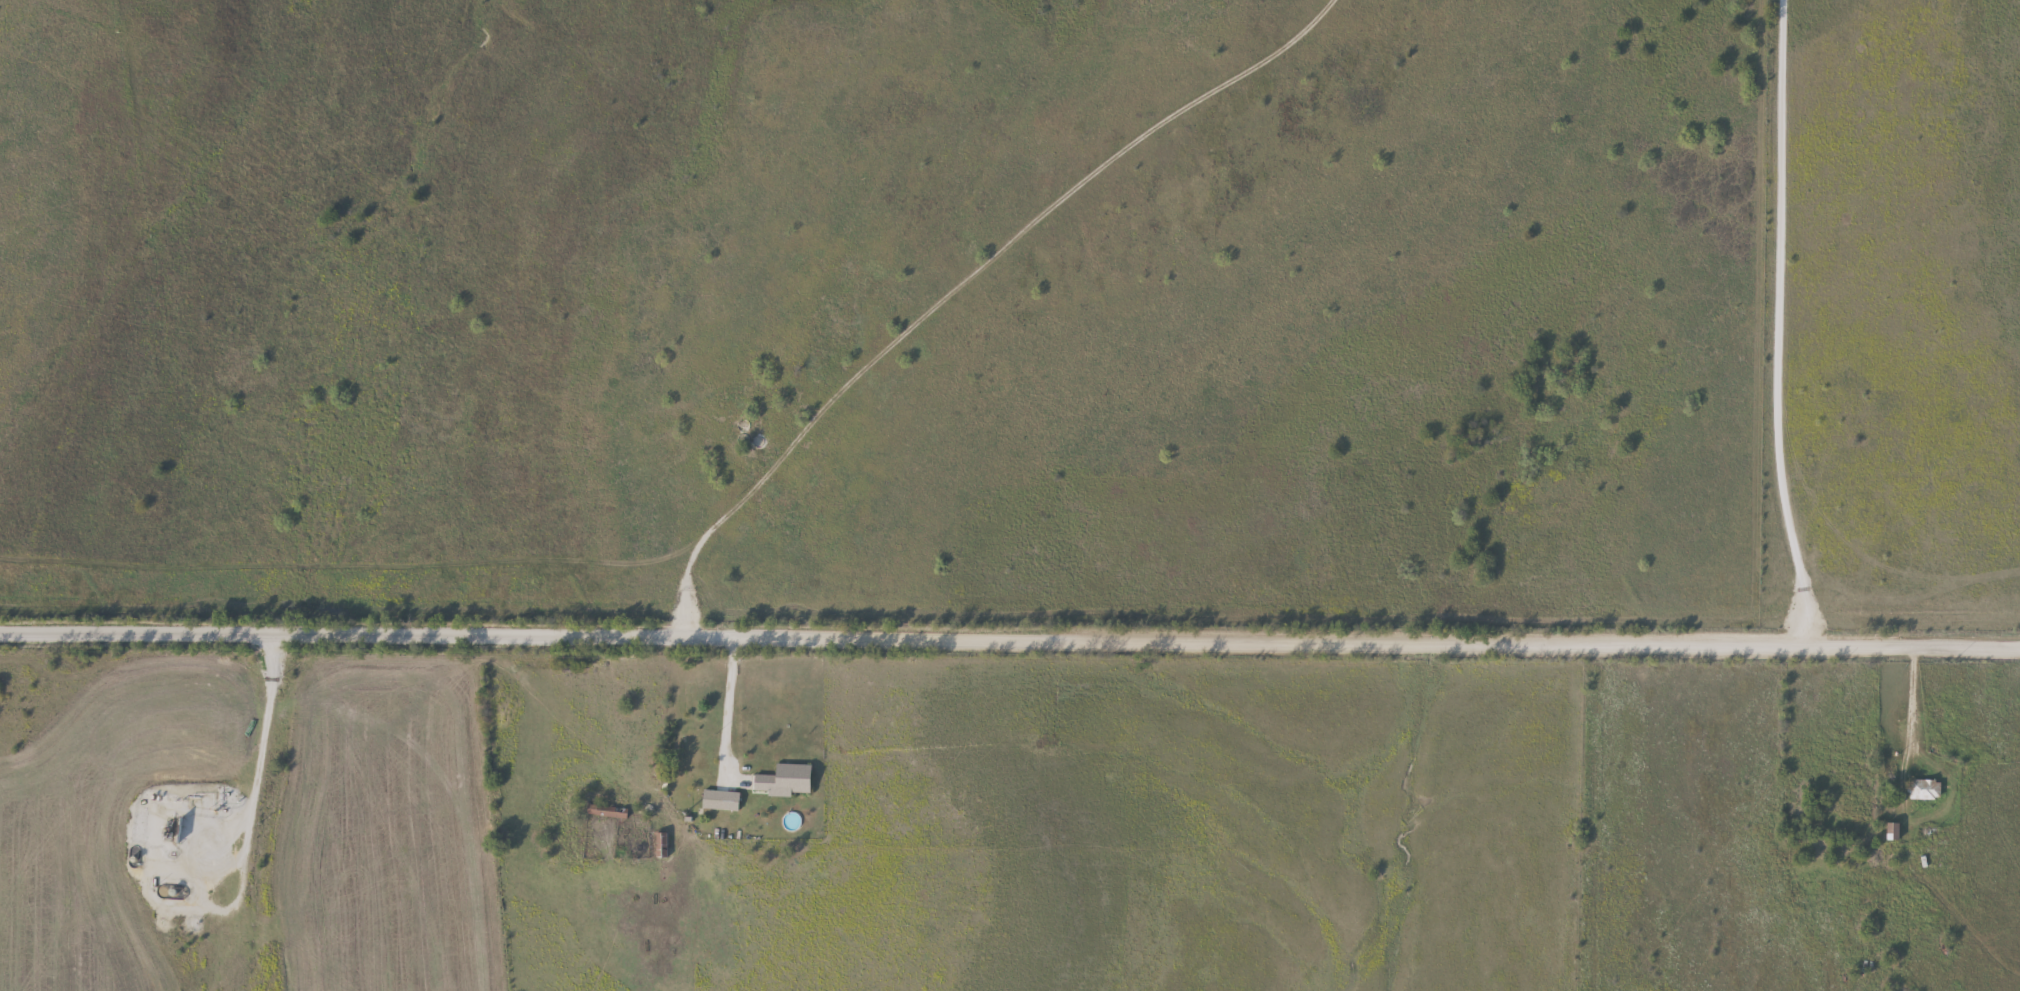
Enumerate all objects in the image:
road: (978, 306)
road: (1773, 324)
road: (1010, 634)
road: (730, 698)
road: (257, 755)
building: (685, 766)
building: (1918, 792)
building: (709, 801)
building: (603, 813)
building: (656, 847)

